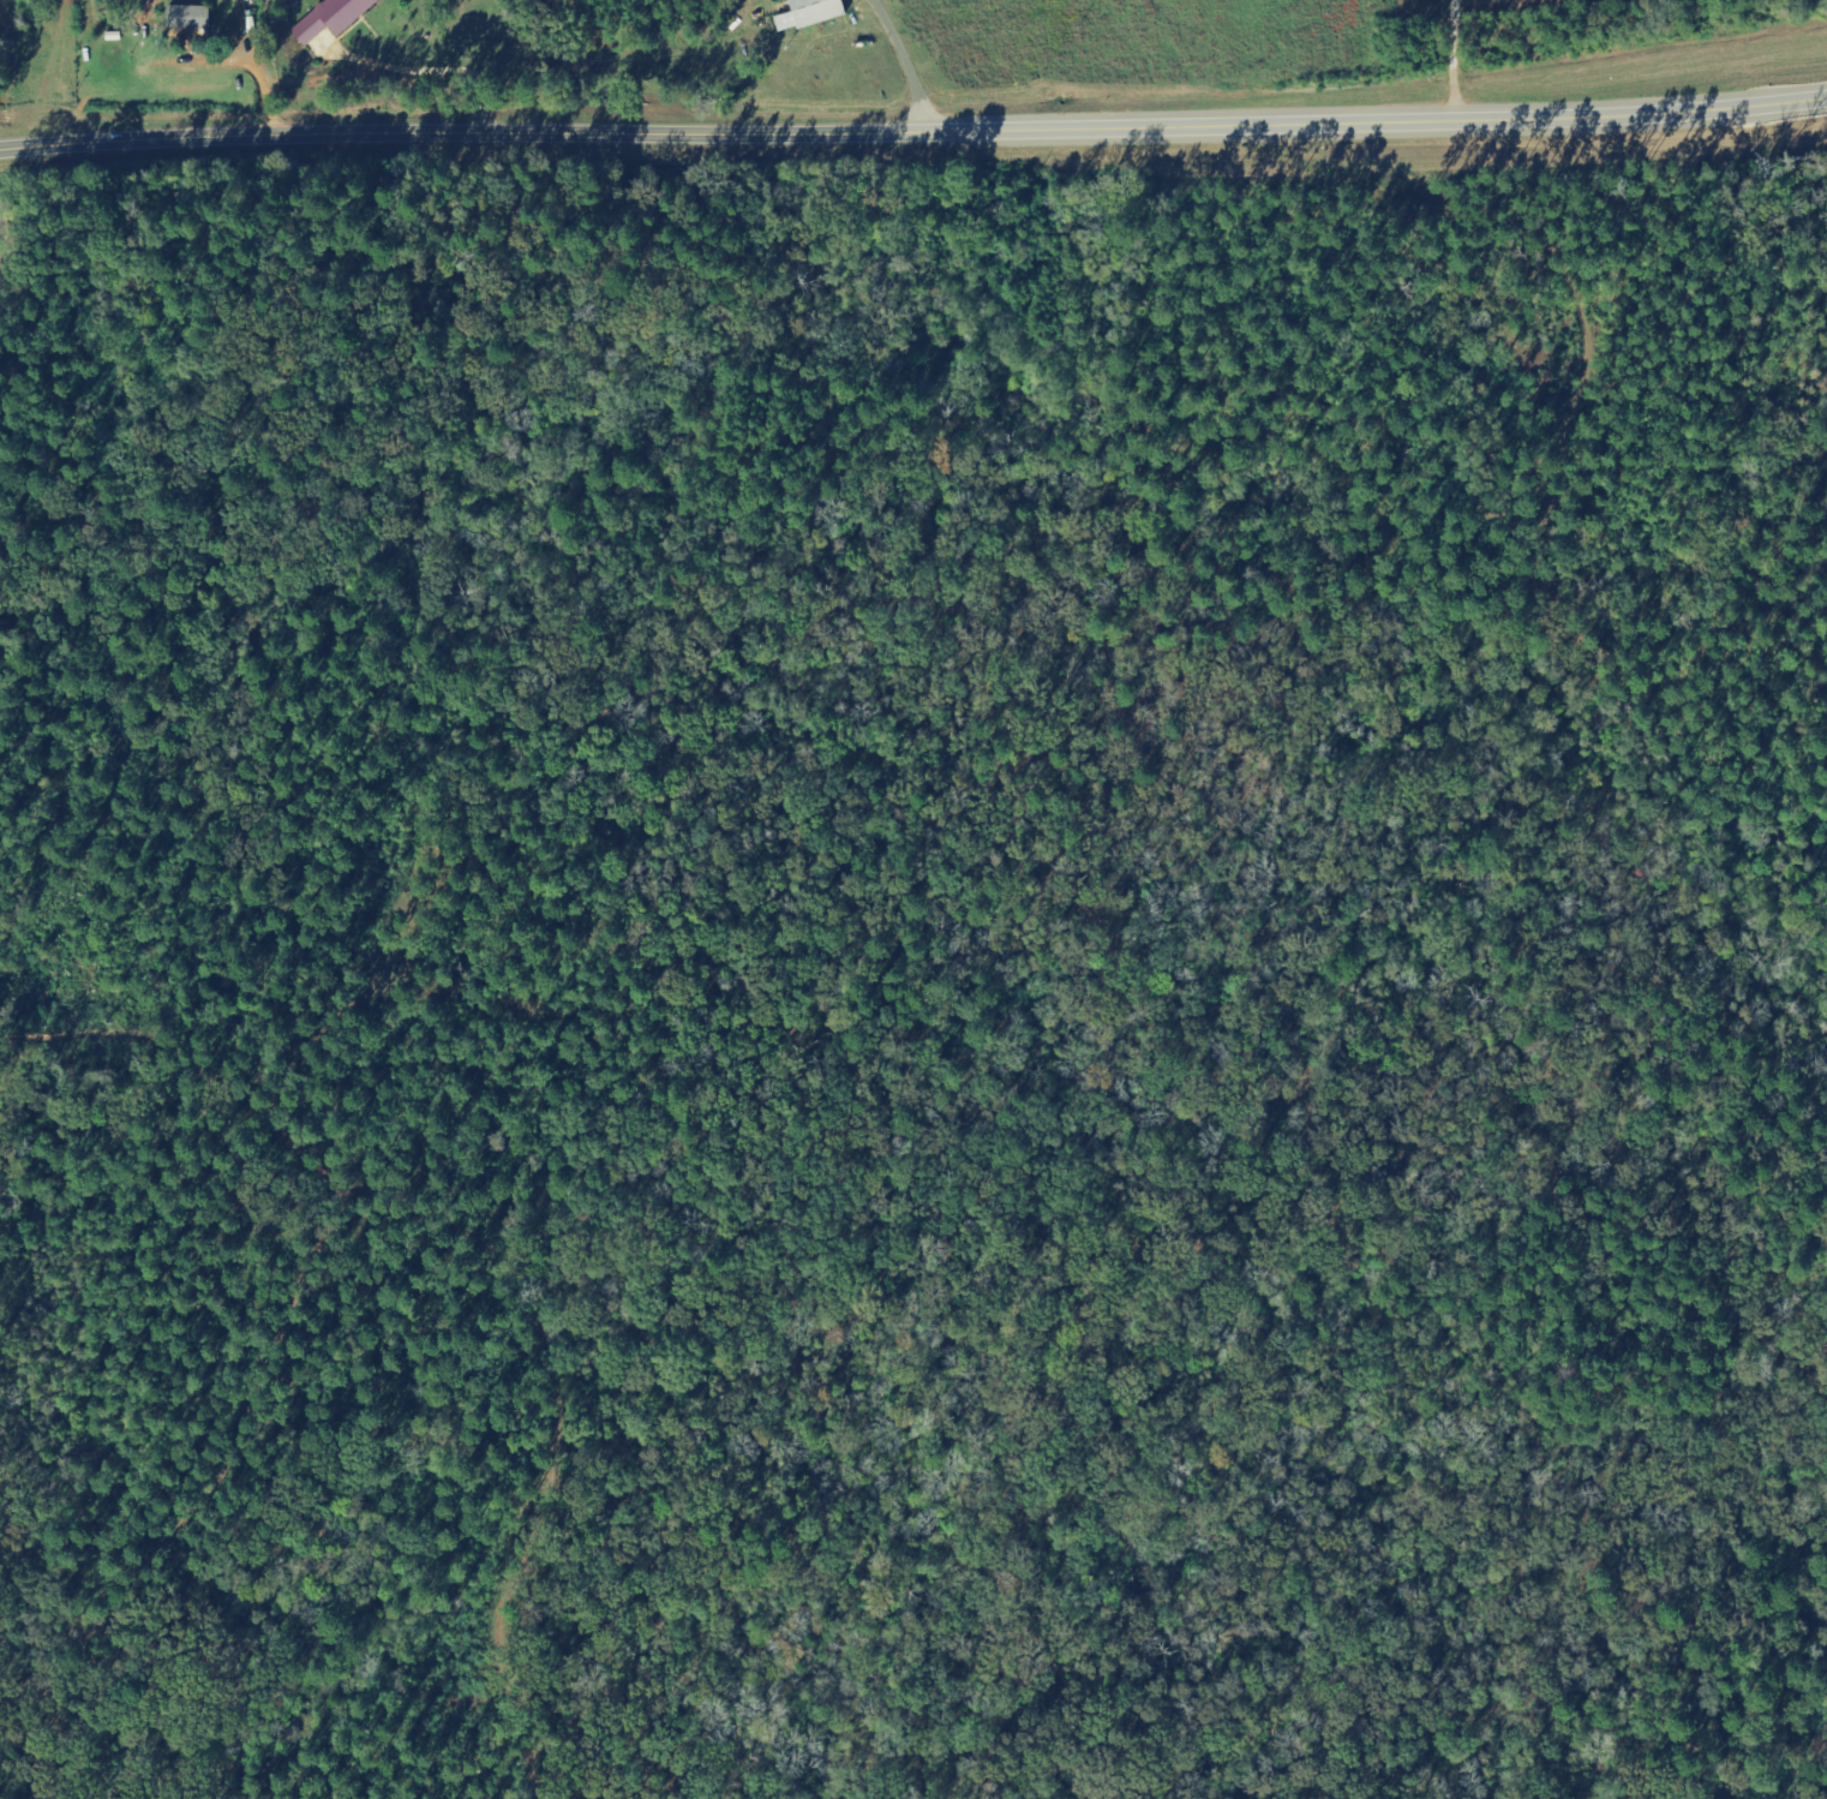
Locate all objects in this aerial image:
building: (810, 14)
building: (190, 18)
building: (333, 18)
road: (1452, 47)
road: (304, 64)
road: (877, 68)
road: (915, 136)

